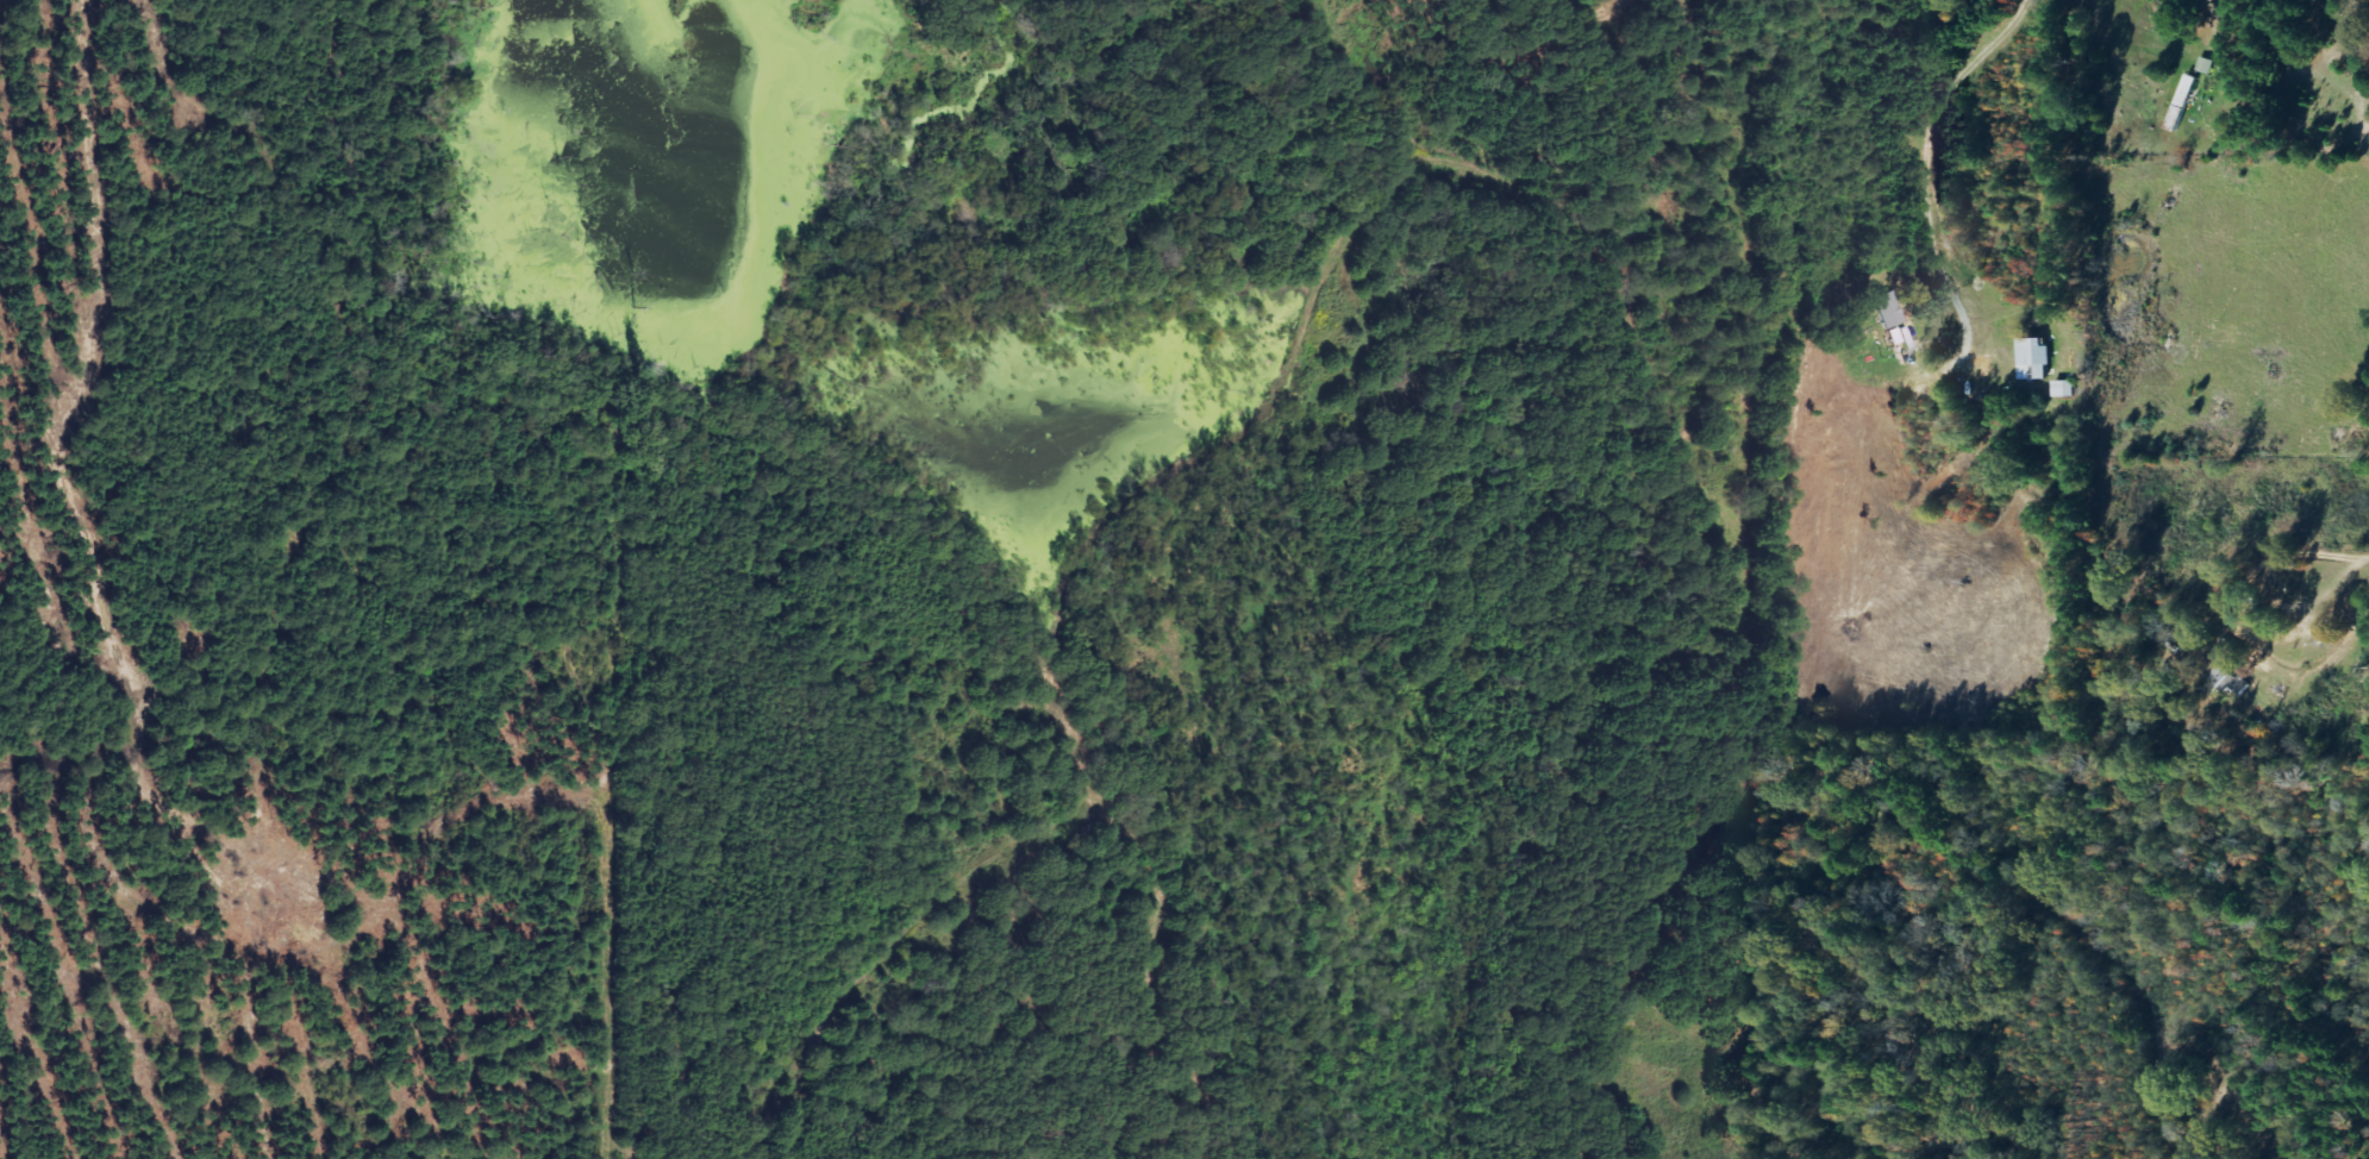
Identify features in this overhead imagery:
building: (1887, 308)
building: (2032, 357)
building: (2063, 387)
building: (2223, 668)

